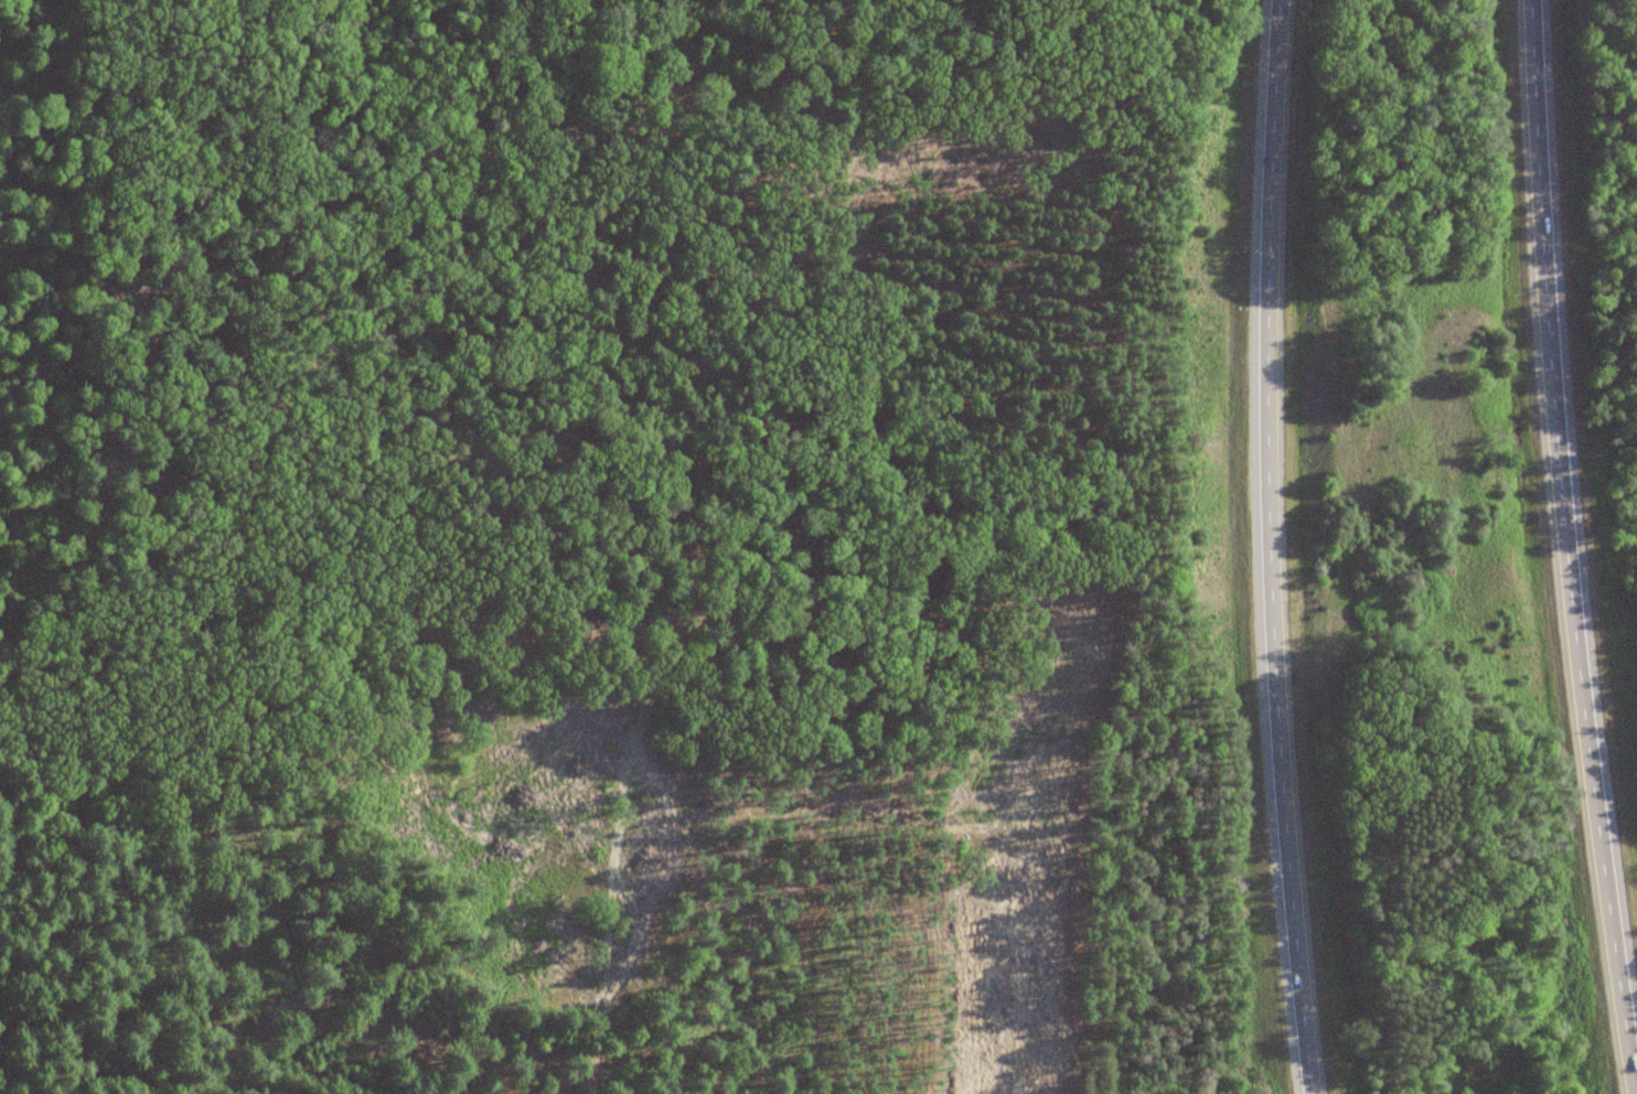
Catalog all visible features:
road: (1256, 547)
road: (1566, 548)

